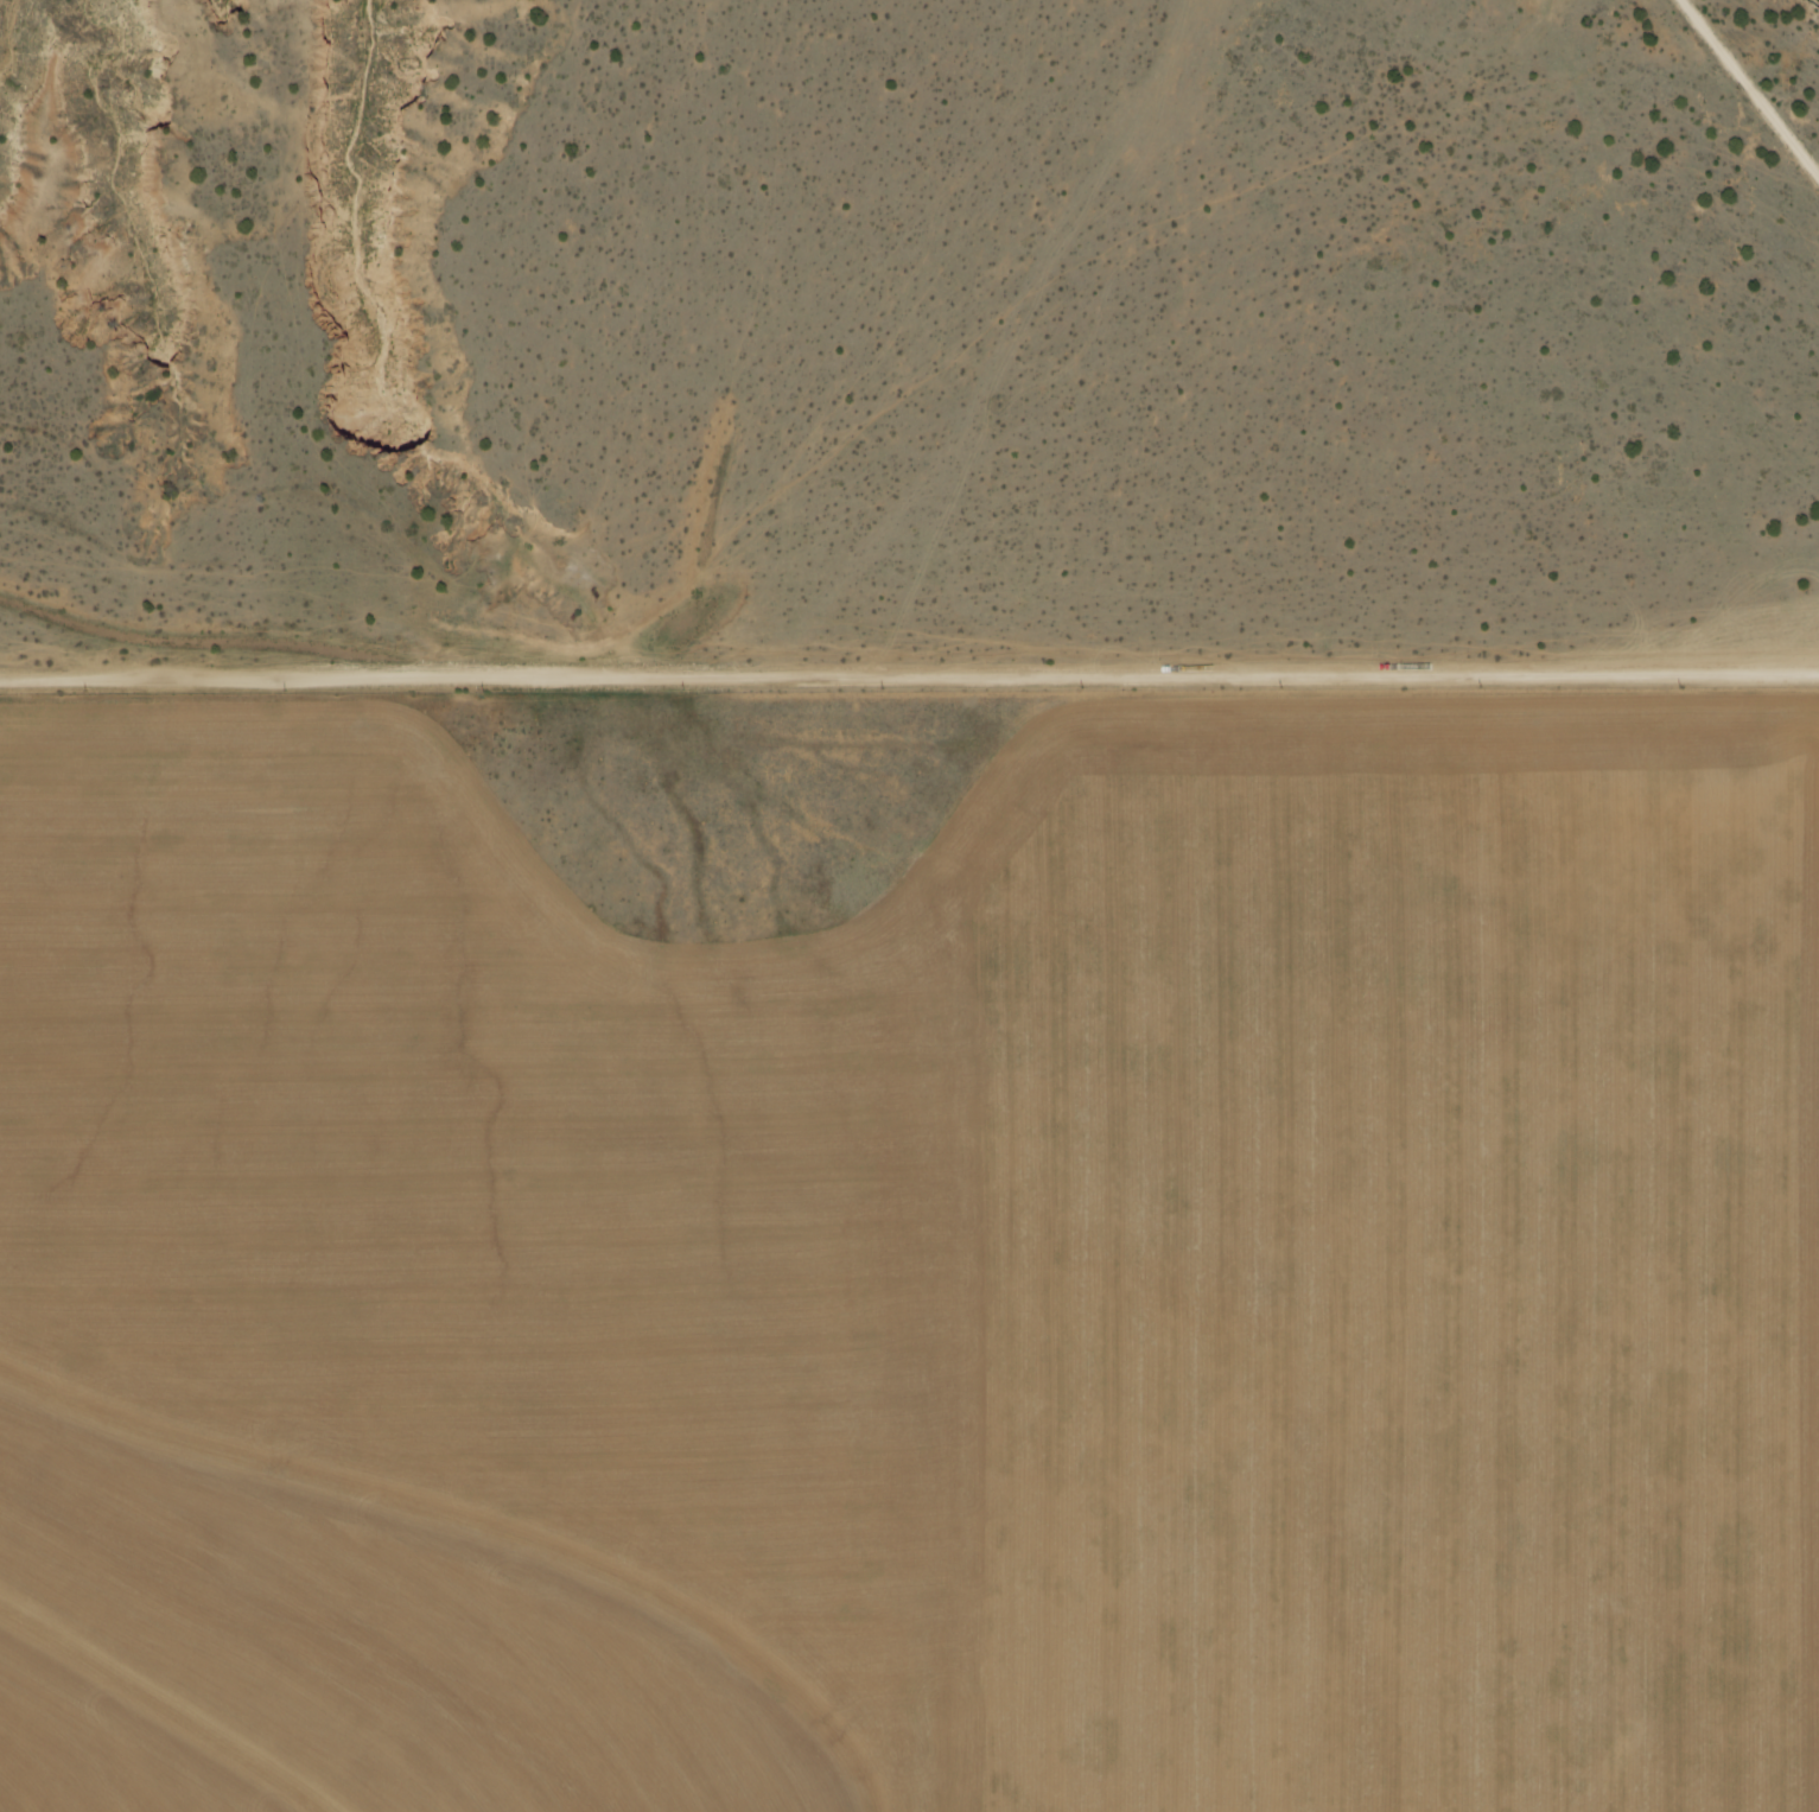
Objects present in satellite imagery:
road: (1750, 89)
road: (909, 681)
crop: (910, 1248)

